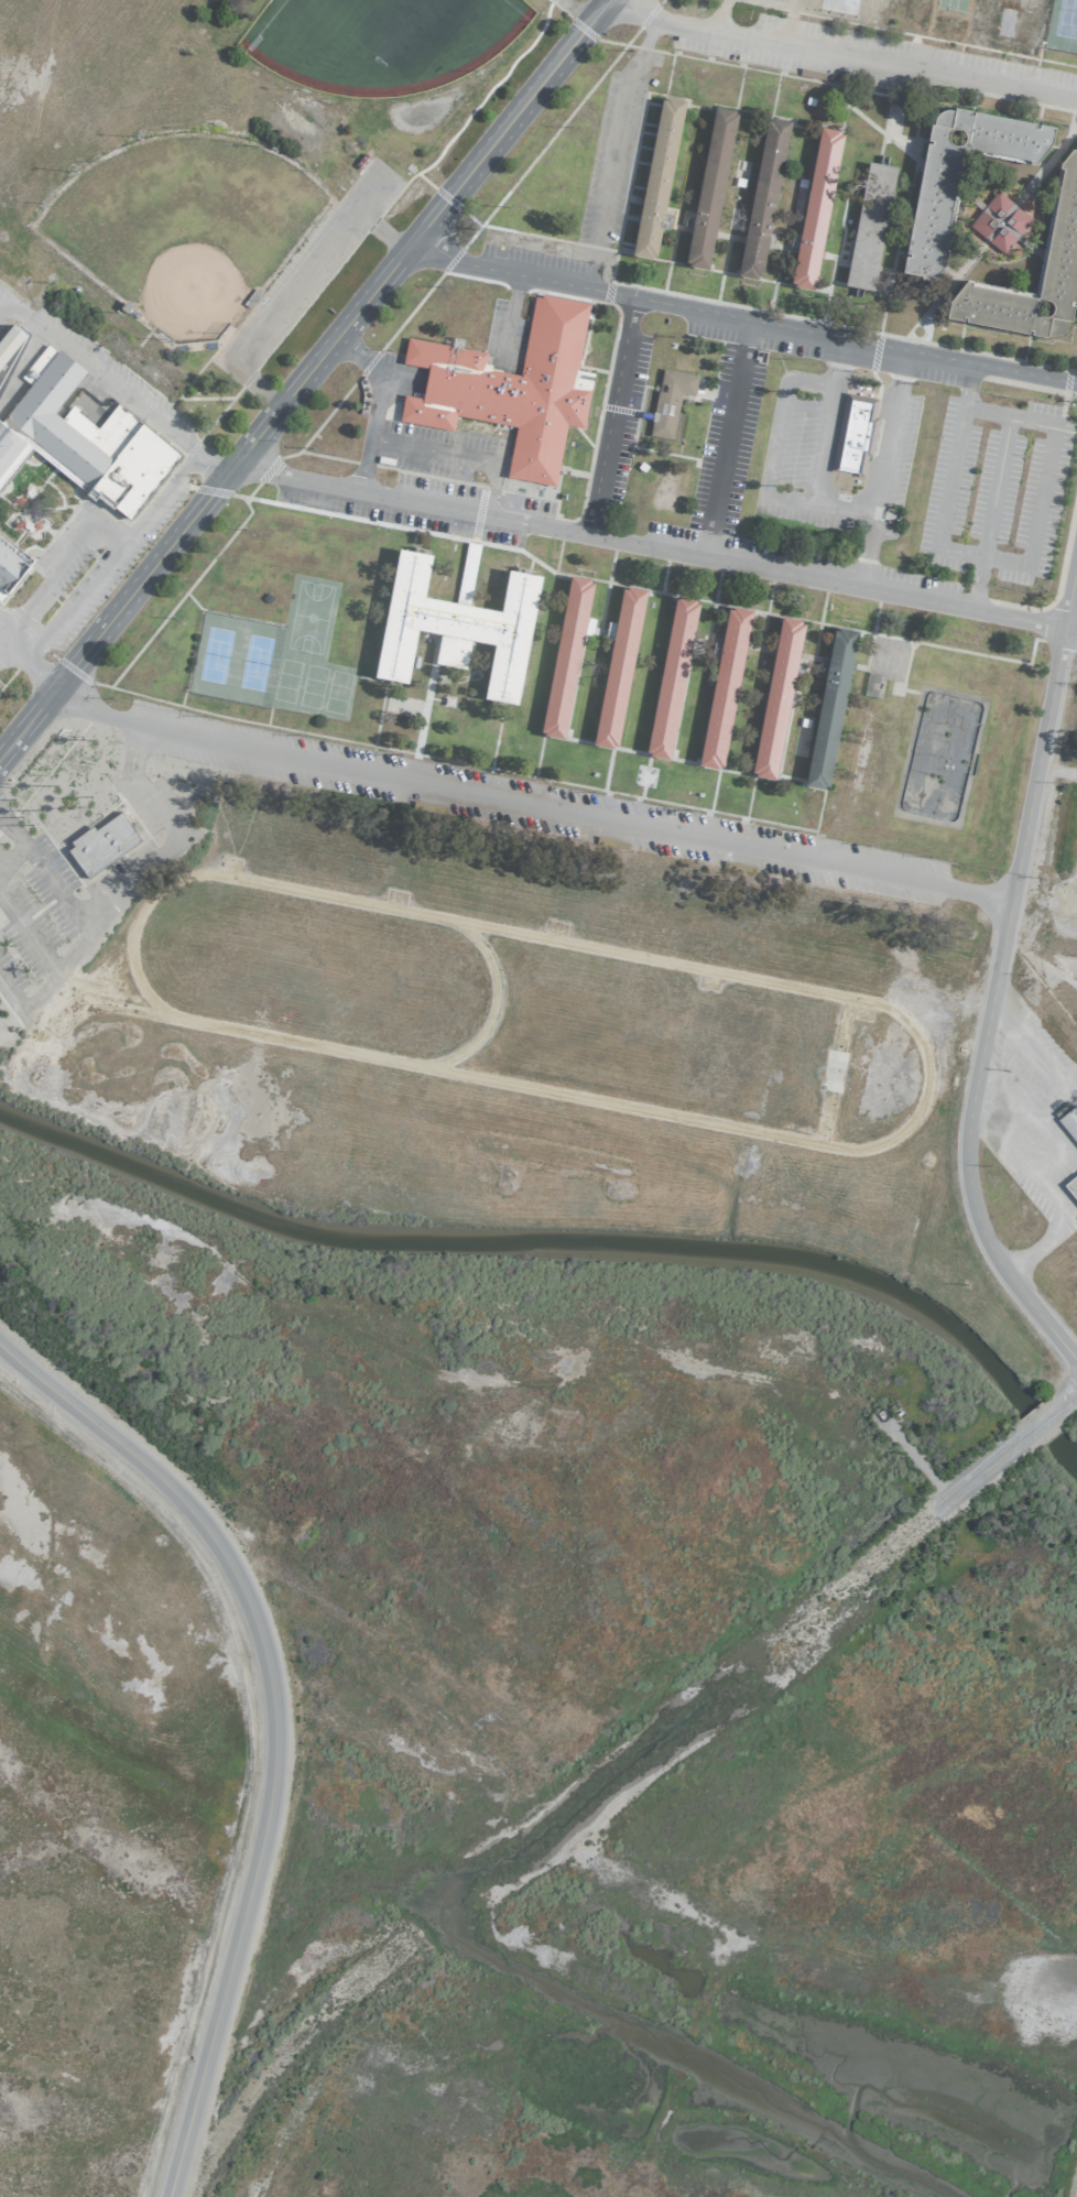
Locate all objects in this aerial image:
park: (1066, 19)
road: (824, 56)
road: (614, 154)
building: (657, 175)
building: (709, 187)
building: (762, 197)
building: (932, 207)
building: (815, 208)
building: (1064, 215)
building: (999, 221)
building: (869, 226)
road: (293, 291)
road: (738, 315)
road: (836, 361)
road: (98, 373)
road: (301, 377)
road: (376, 378)
building: (510, 388)
building: (670, 403)
road: (780, 411)
road: (608, 416)
road: (888, 432)
building: (856, 433)
building: (81, 438)
road: (722, 438)
road: (822, 444)
road: (456, 454)
road: (211, 461)
road: (362, 466)
road: (159, 497)
road: (816, 503)
road: (988, 512)
road: (108, 533)
road: (653, 551)
road: (866, 553)
road: (1002, 559)
building: (10, 563)
road: (45, 583)
road: (69, 603)
park: (308, 617)
building: (456, 626)
road: (7, 639)
park: (214, 654)
building: (565, 655)
park: (253, 662)
building: (618, 665)
road: (33, 670)
building: (671, 676)
park: (285, 679)
park: (312, 686)
building: (724, 686)
park: (336, 692)
building: (776, 696)
building: (829, 707)
road: (133, 729)
road: (122, 758)
road: (138, 759)
road: (530, 797)
building: (101, 844)
road: (11, 858)
road: (108, 906)
road: (996, 975)
road: (43, 985)
airport: (538, 1098)
building: (1069, 1121)
building: (1071, 1186)
road: (273, 1725)
road: (608, 1772)

